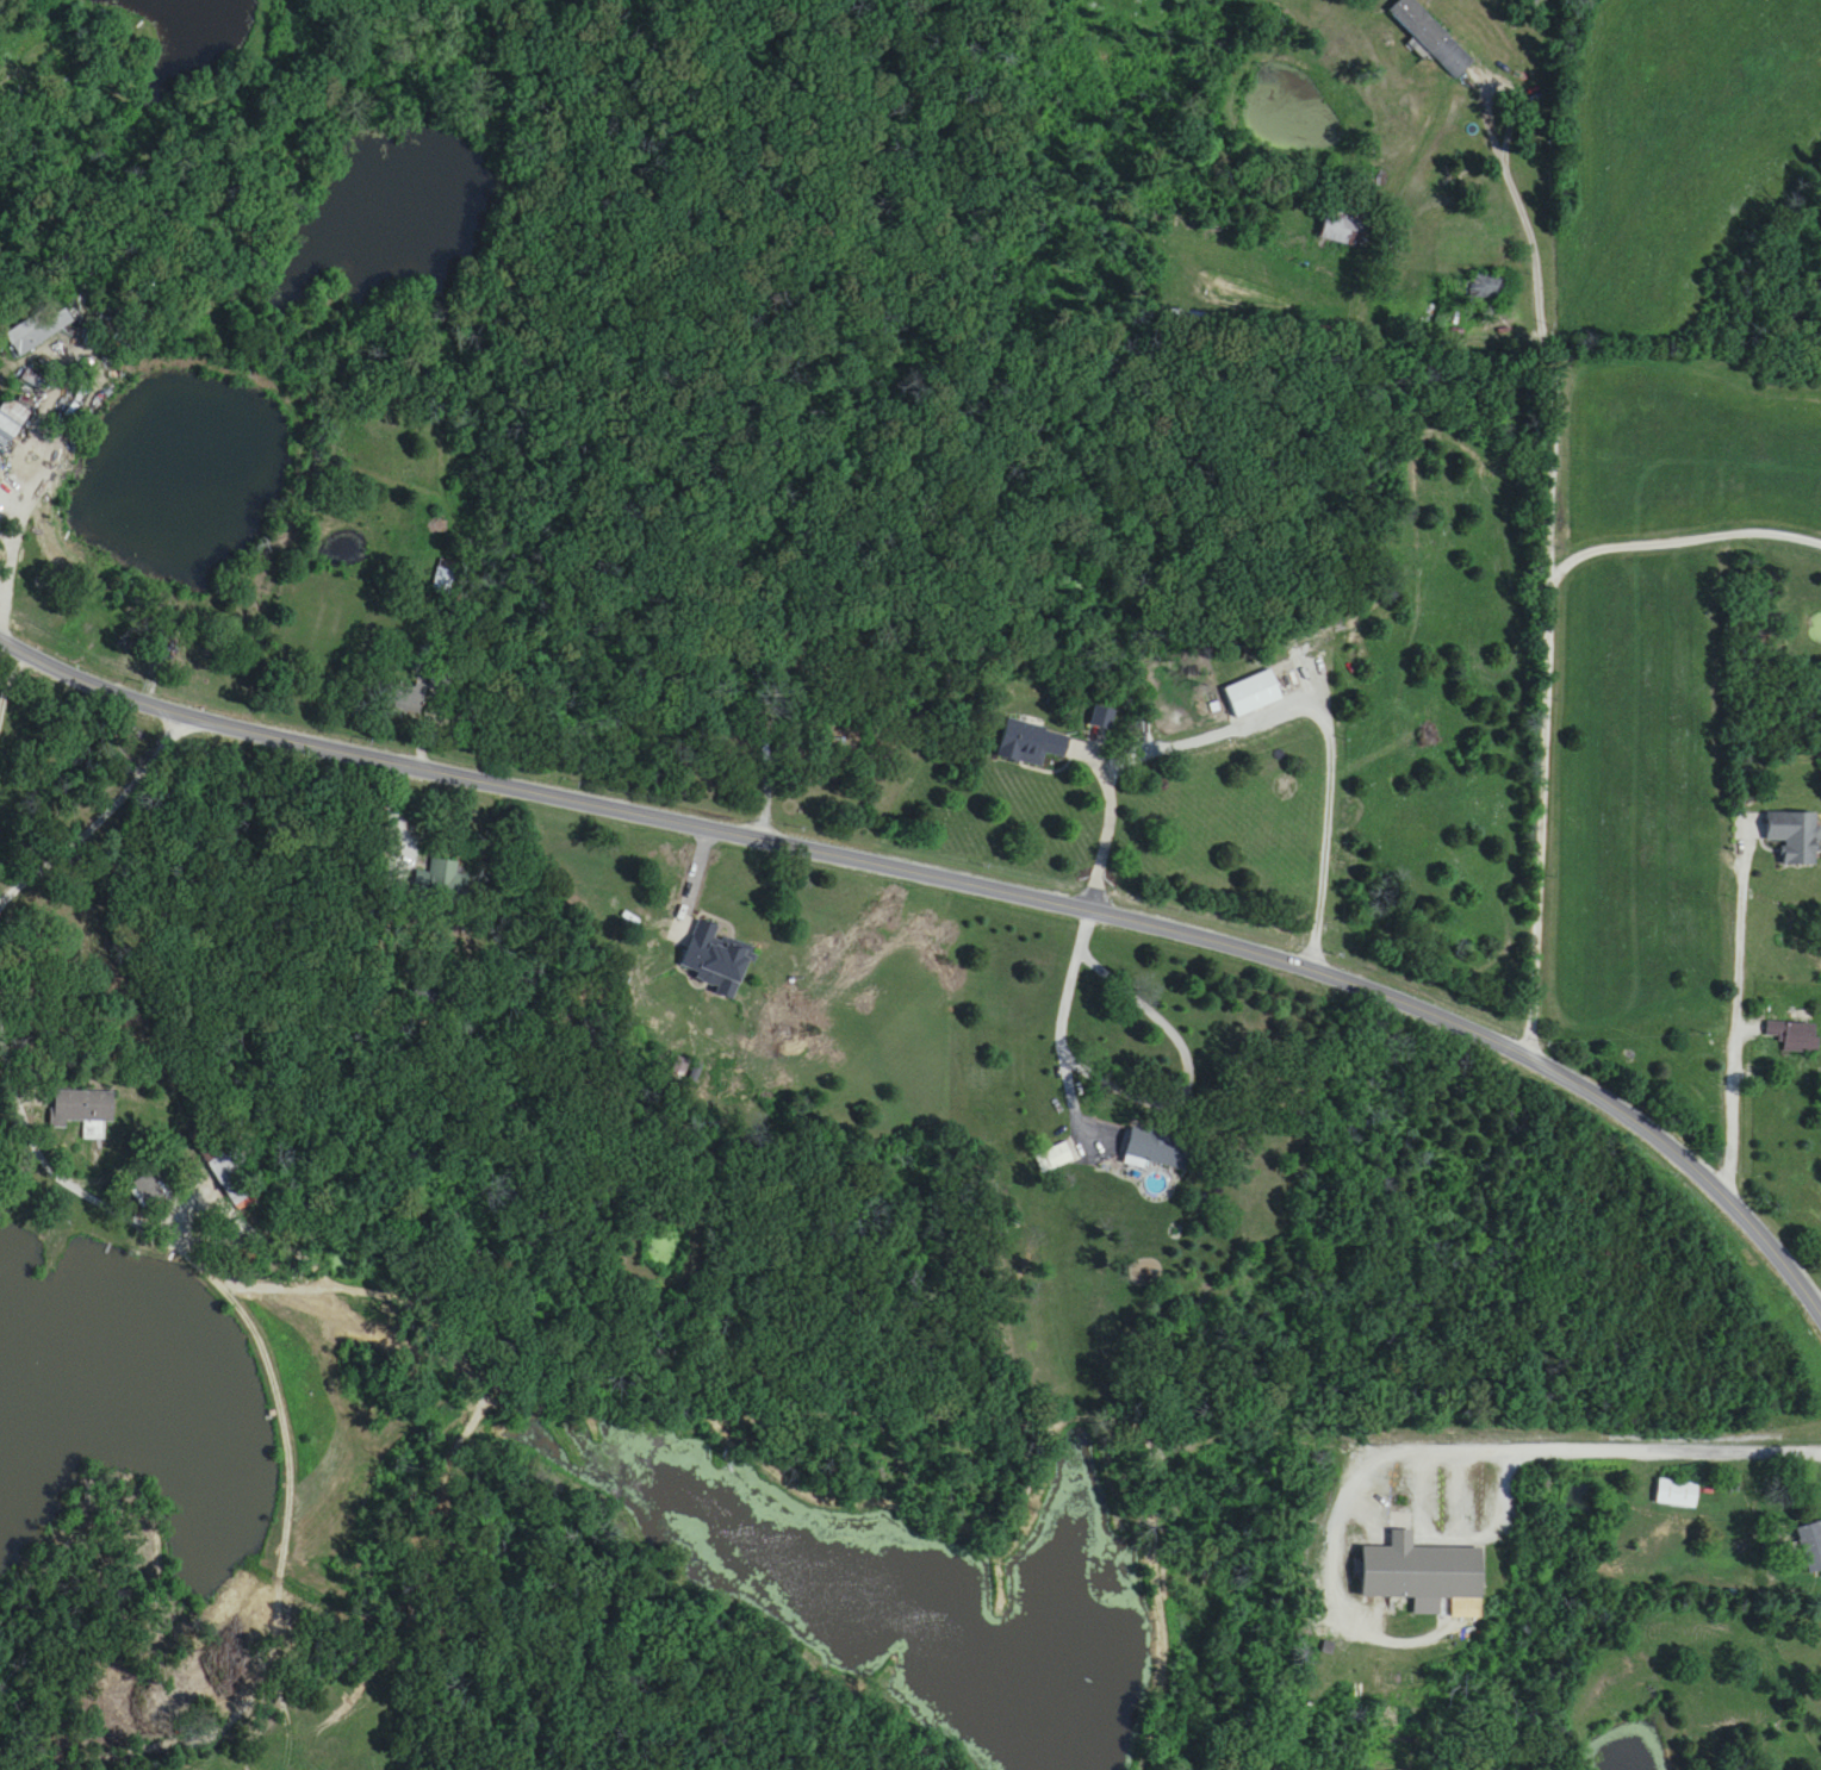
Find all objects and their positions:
building: (1430, 38)
building: (1487, 287)
building: (38, 330)
building: (19, 407)
building: (1, 468)
road: (17, 543)
road: (1679, 548)
road: (1546, 574)
building: (446, 580)
road: (7, 687)
building: (1253, 694)
building: (412, 700)
road: (1317, 723)
building: (1031, 744)
road: (100, 819)
road: (1098, 825)
building: (1794, 839)
road: (383, 862)
building: (447, 881)
road: (959, 885)
road: (7, 889)
road: (1084, 934)
building: (716, 961)
road: (1734, 976)
building: (433, 996)
building: (1795, 1037)
road: (1074, 1093)
road: (21, 1105)
building: (85, 1111)
building: (1156, 1151)
building: (235, 1183)
road: (1575, 1451)
building: (1677, 1494)
building: (1811, 1546)
building: (1419, 1572)

